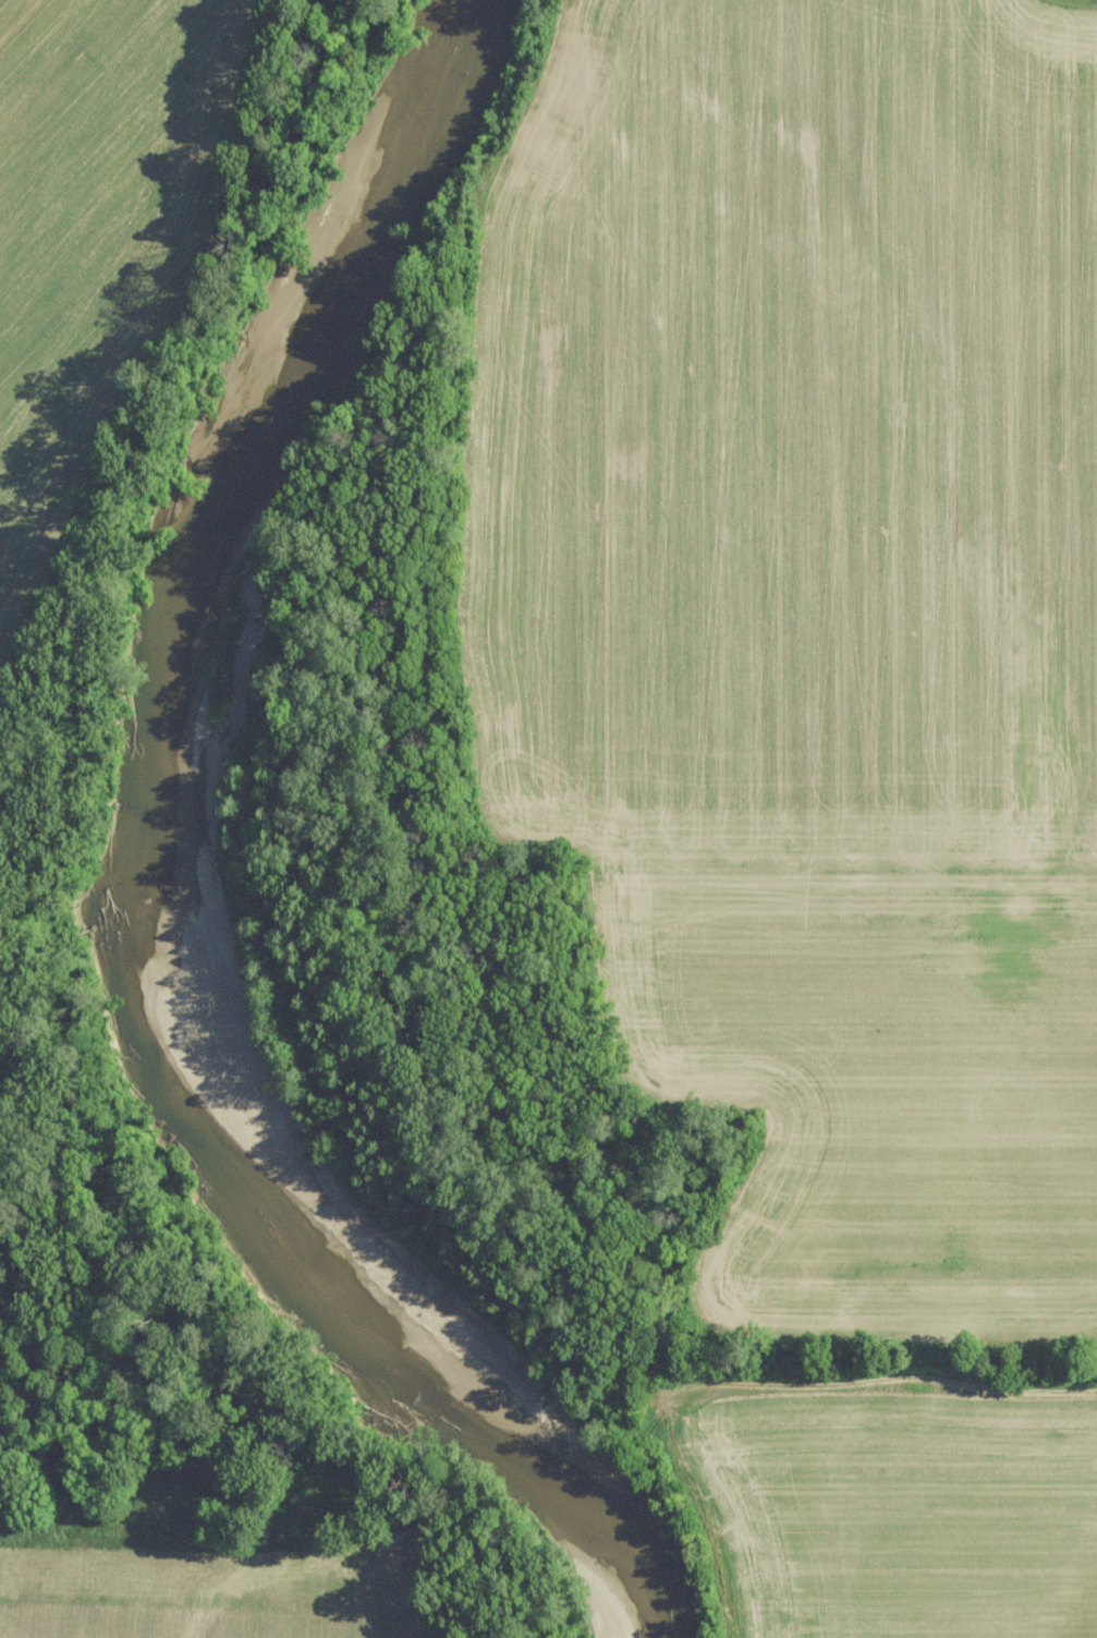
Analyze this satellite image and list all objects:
river: (160, 873)

